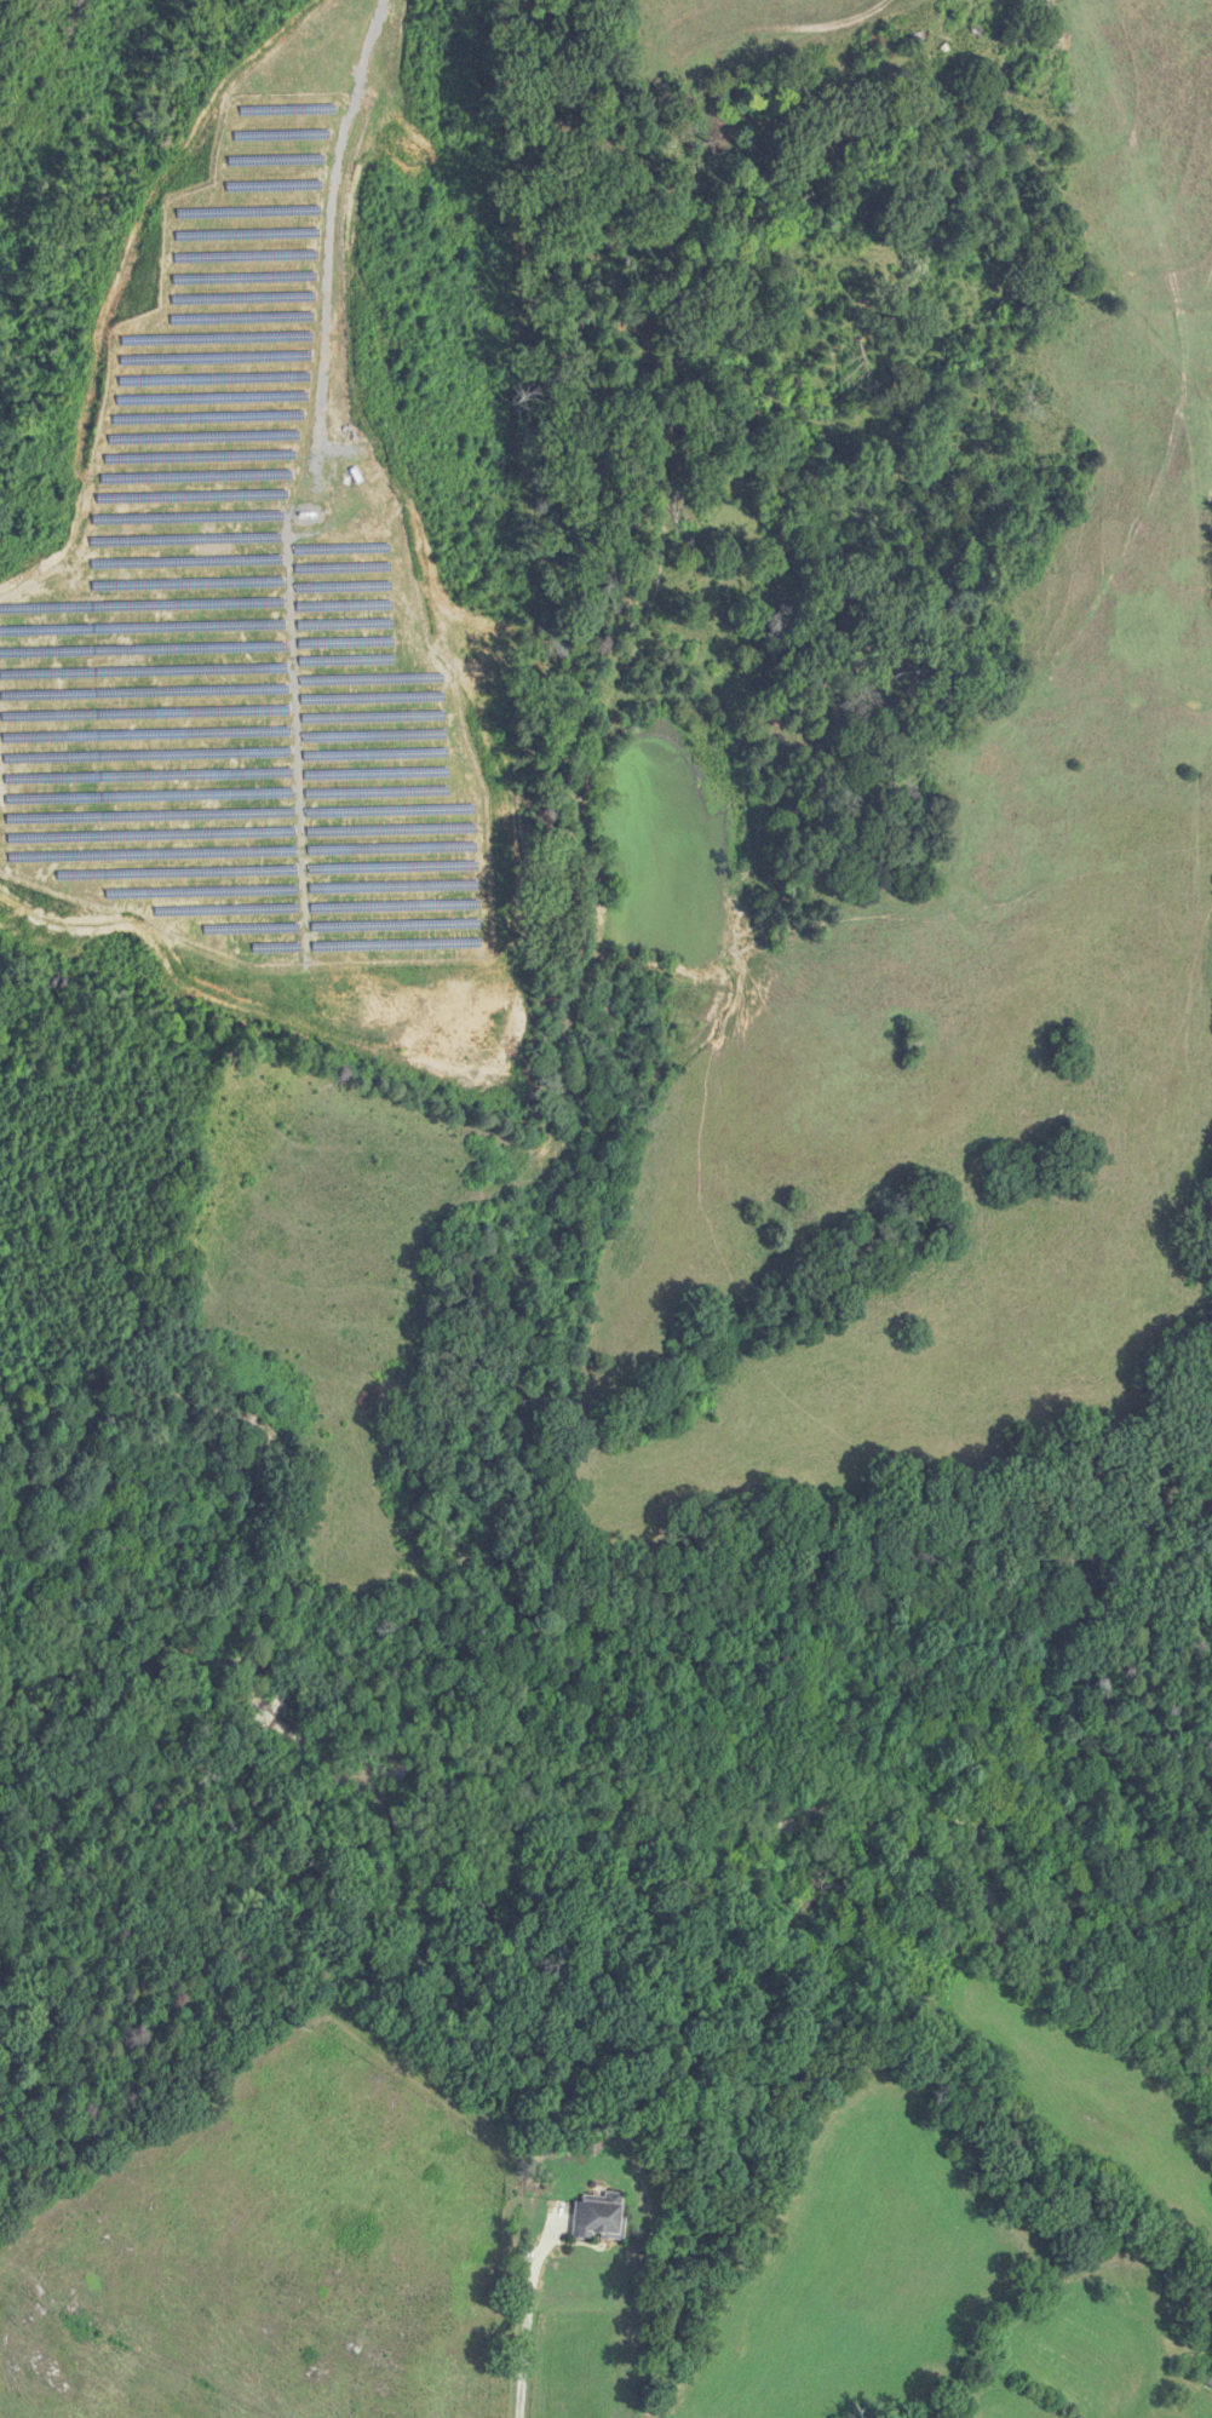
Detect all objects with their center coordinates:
road: (752, 17)
road: (329, 229)
building: (602, 2217)
road: (528, 2316)
building: (1211, 2384)

